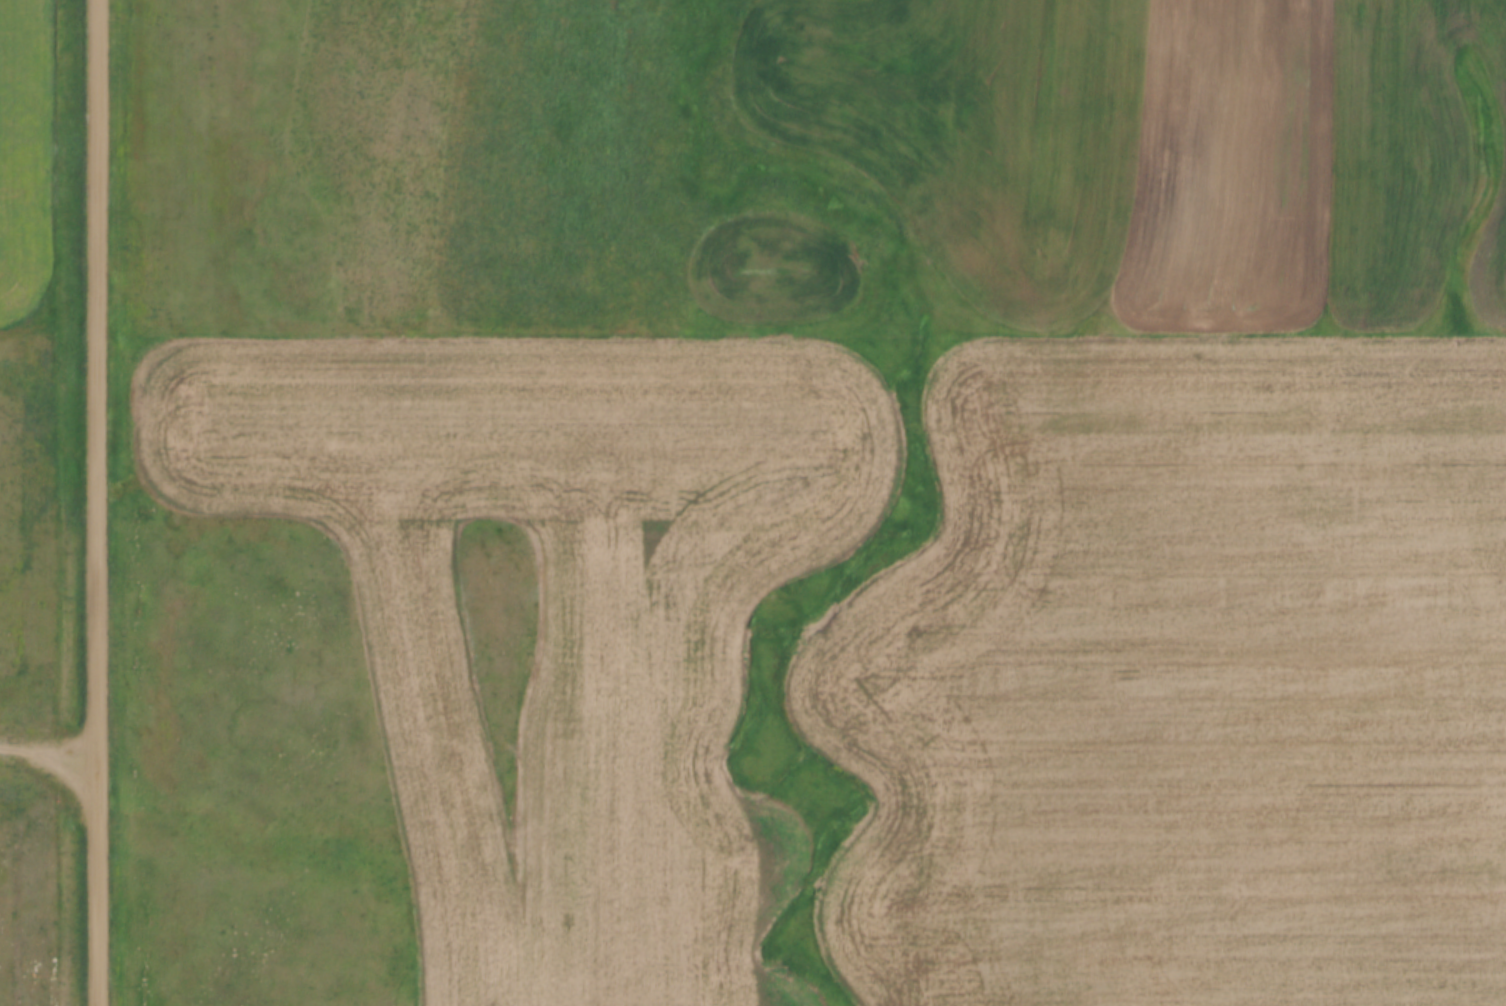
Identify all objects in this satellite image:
road: (97, 502)
road: (48, 750)

